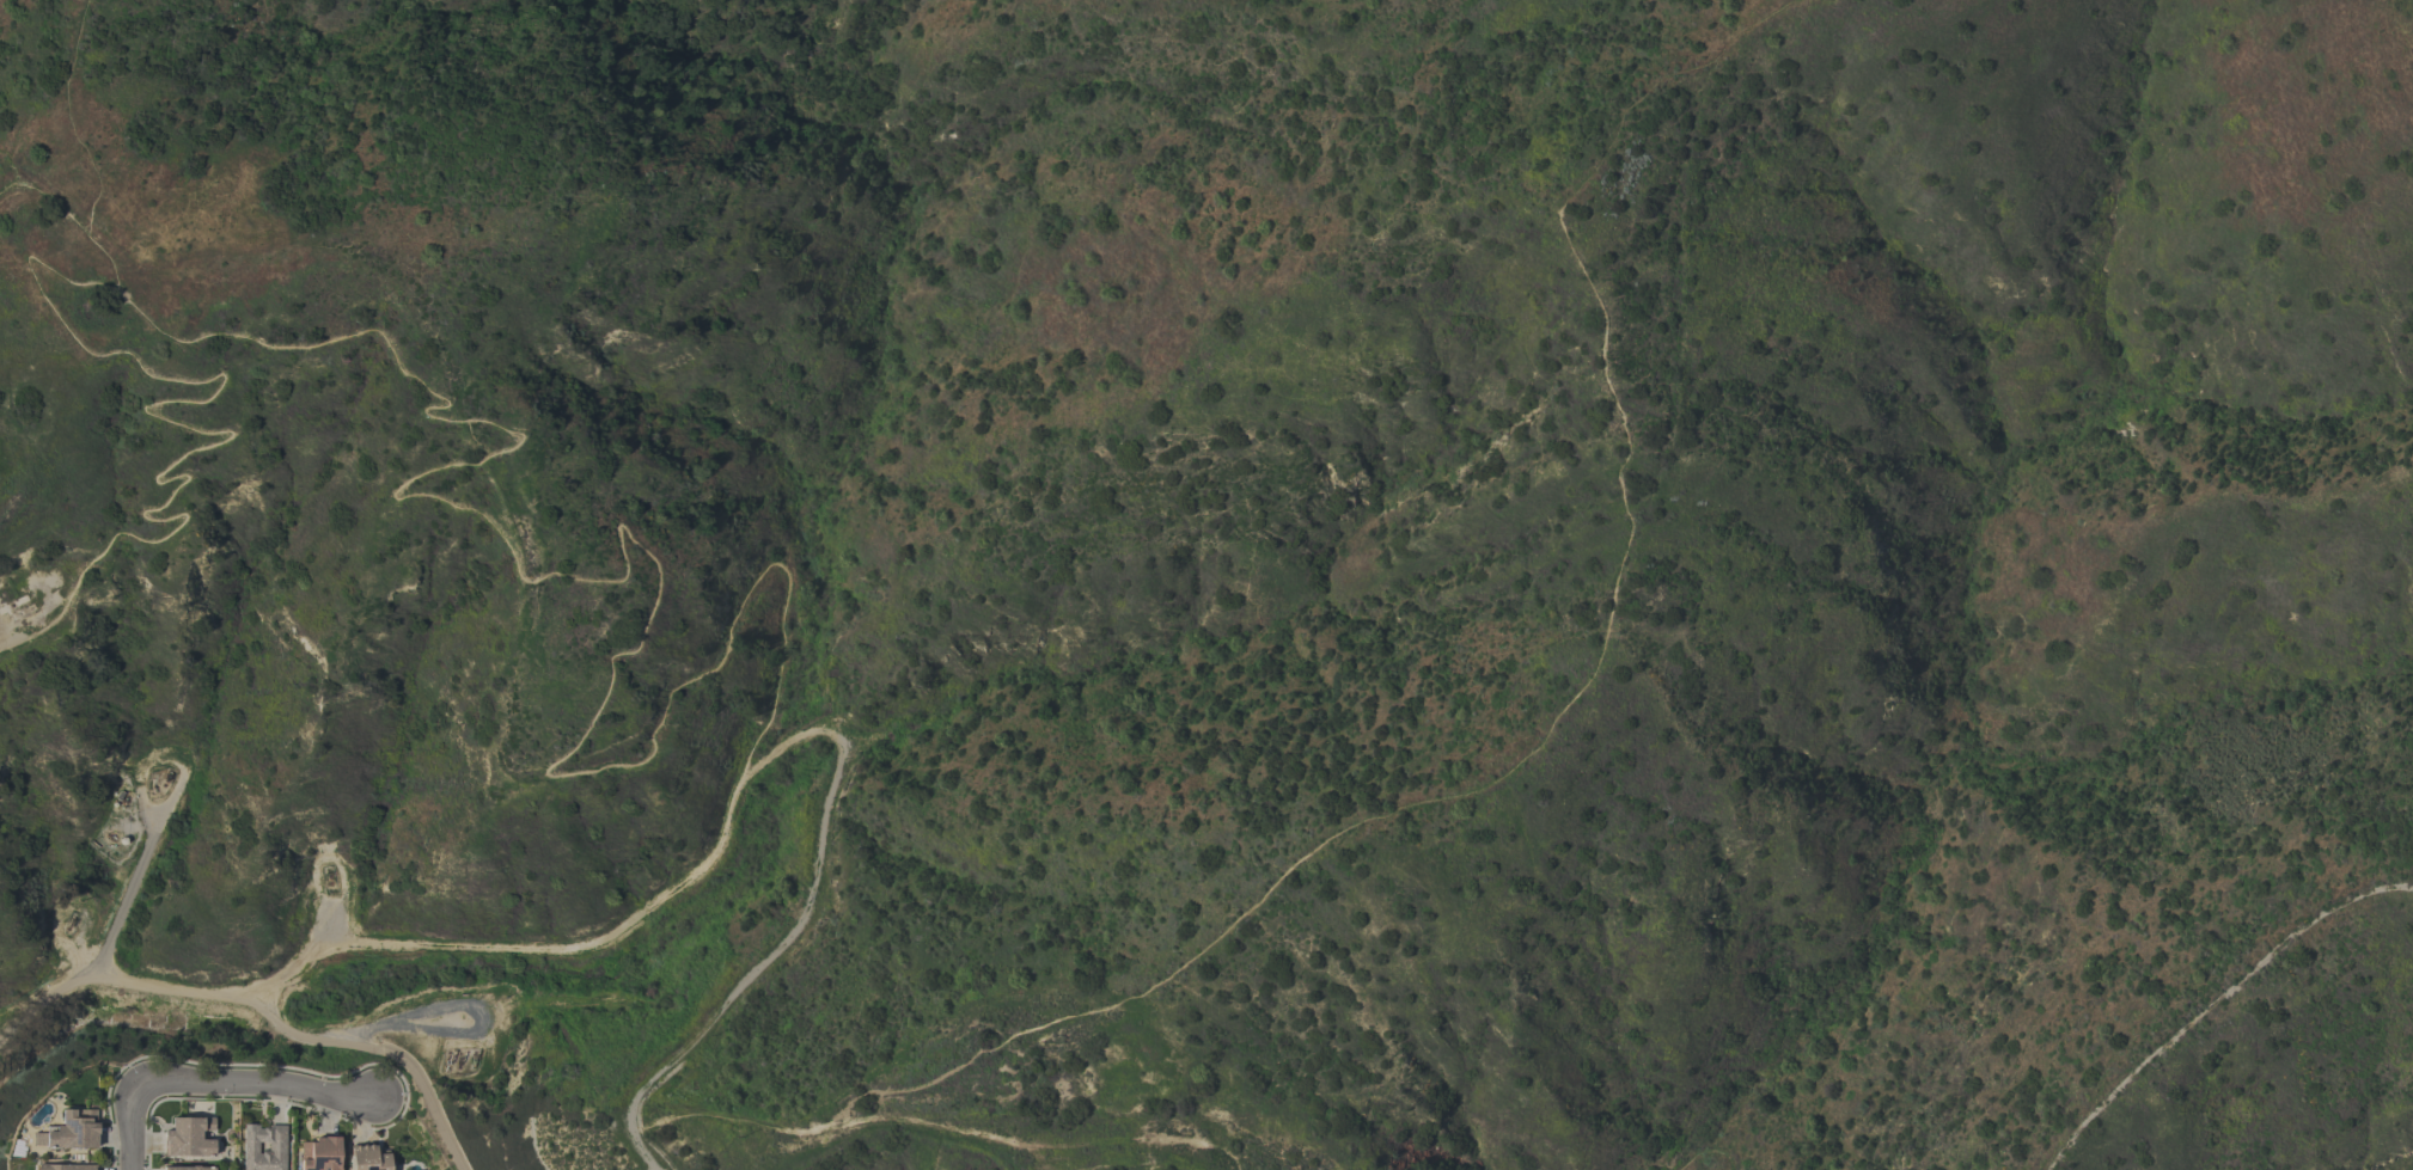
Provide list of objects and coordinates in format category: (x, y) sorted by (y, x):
road: (434, 501)
road: (1, 626)
petroleum well: (167, 776)
road: (124, 896)
petroleum well: (71, 919)
road: (806, 926)
road: (112, 974)
road: (2206, 997)
road: (409, 1022)
road: (377, 1050)
petroleum well: (458, 1059)
petroleum well: (472, 1059)
petroleum well: (447, 1061)
road: (386, 1066)
road: (256, 1083)
road: (128, 1126)
building: (72, 1134)
building: (185, 1141)
building: (257, 1148)
building: (312, 1156)
building: (361, 1160)
building: (66, 1169)

